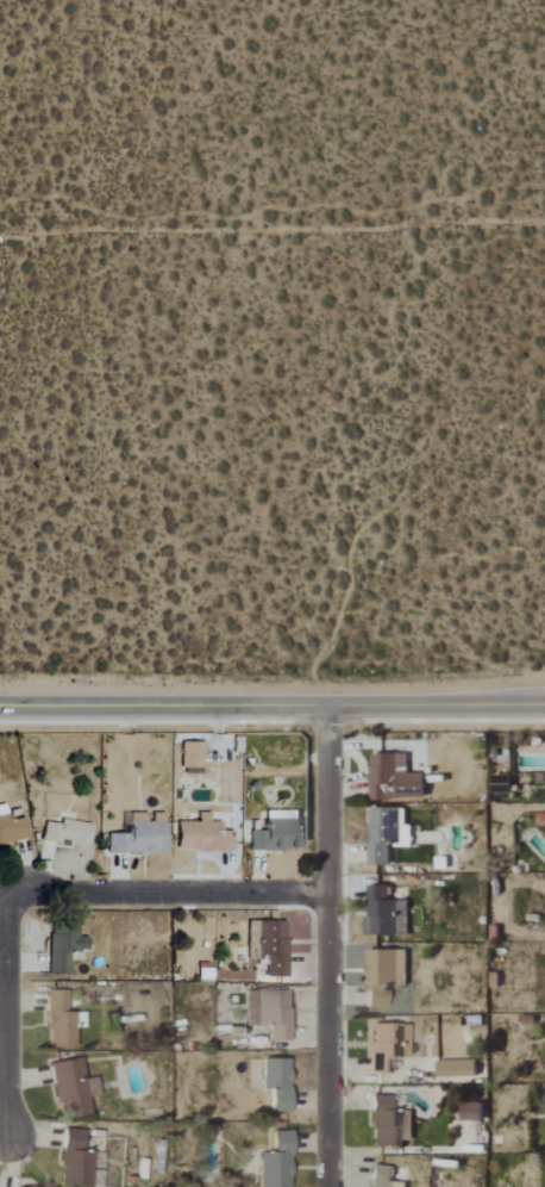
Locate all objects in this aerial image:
road: (272, 232)
road: (272, 702)
building: (193, 756)
building: (400, 777)
building: (12, 827)
building: (69, 833)
building: (280, 833)
building: (388, 834)
building: (203, 835)
building: (142, 838)
road: (154, 888)
building: (387, 914)
road: (321, 944)
building: (271, 946)
building: (64, 949)
building: (386, 975)
building: (270, 1013)
building: (61, 1021)
road: (5, 1023)
building: (393, 1046)
building: (459, 1069)
building: (278, 1083)
building: (71, 1089)
building: (474, 1113)
building: (390, 1124)
building: (76, 1161)
building: (278, 1162)
building: (384, 1176)

